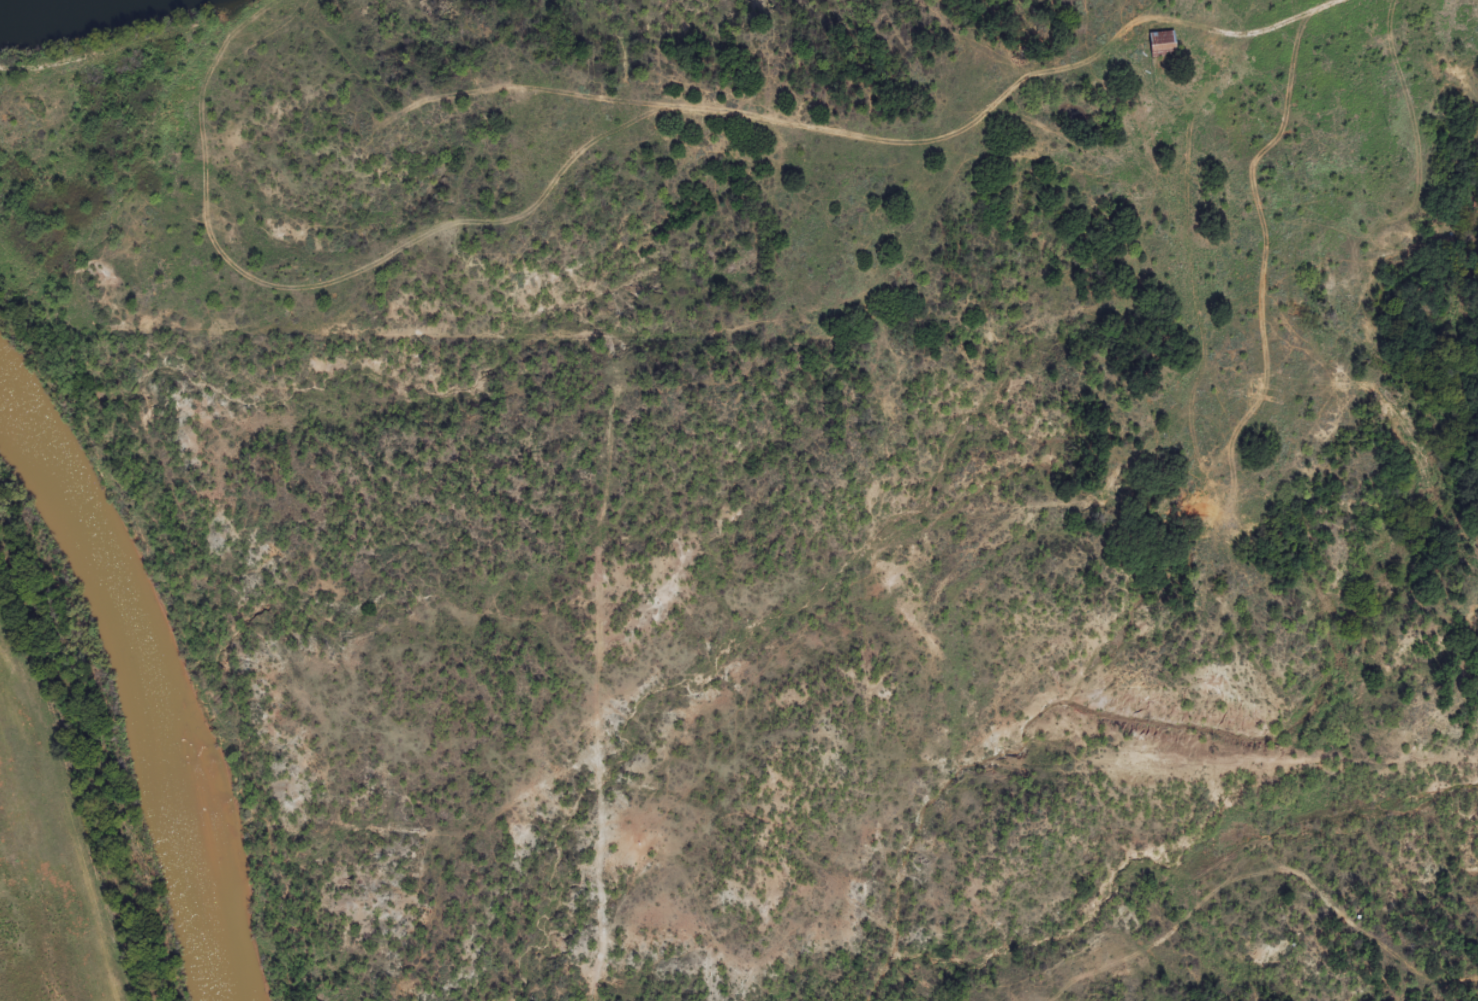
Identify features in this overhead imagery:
building: (1164, 44)
road: (1294, 73)
road: (1387, 103)
road: (1291, 221)
river: (148, 685)

